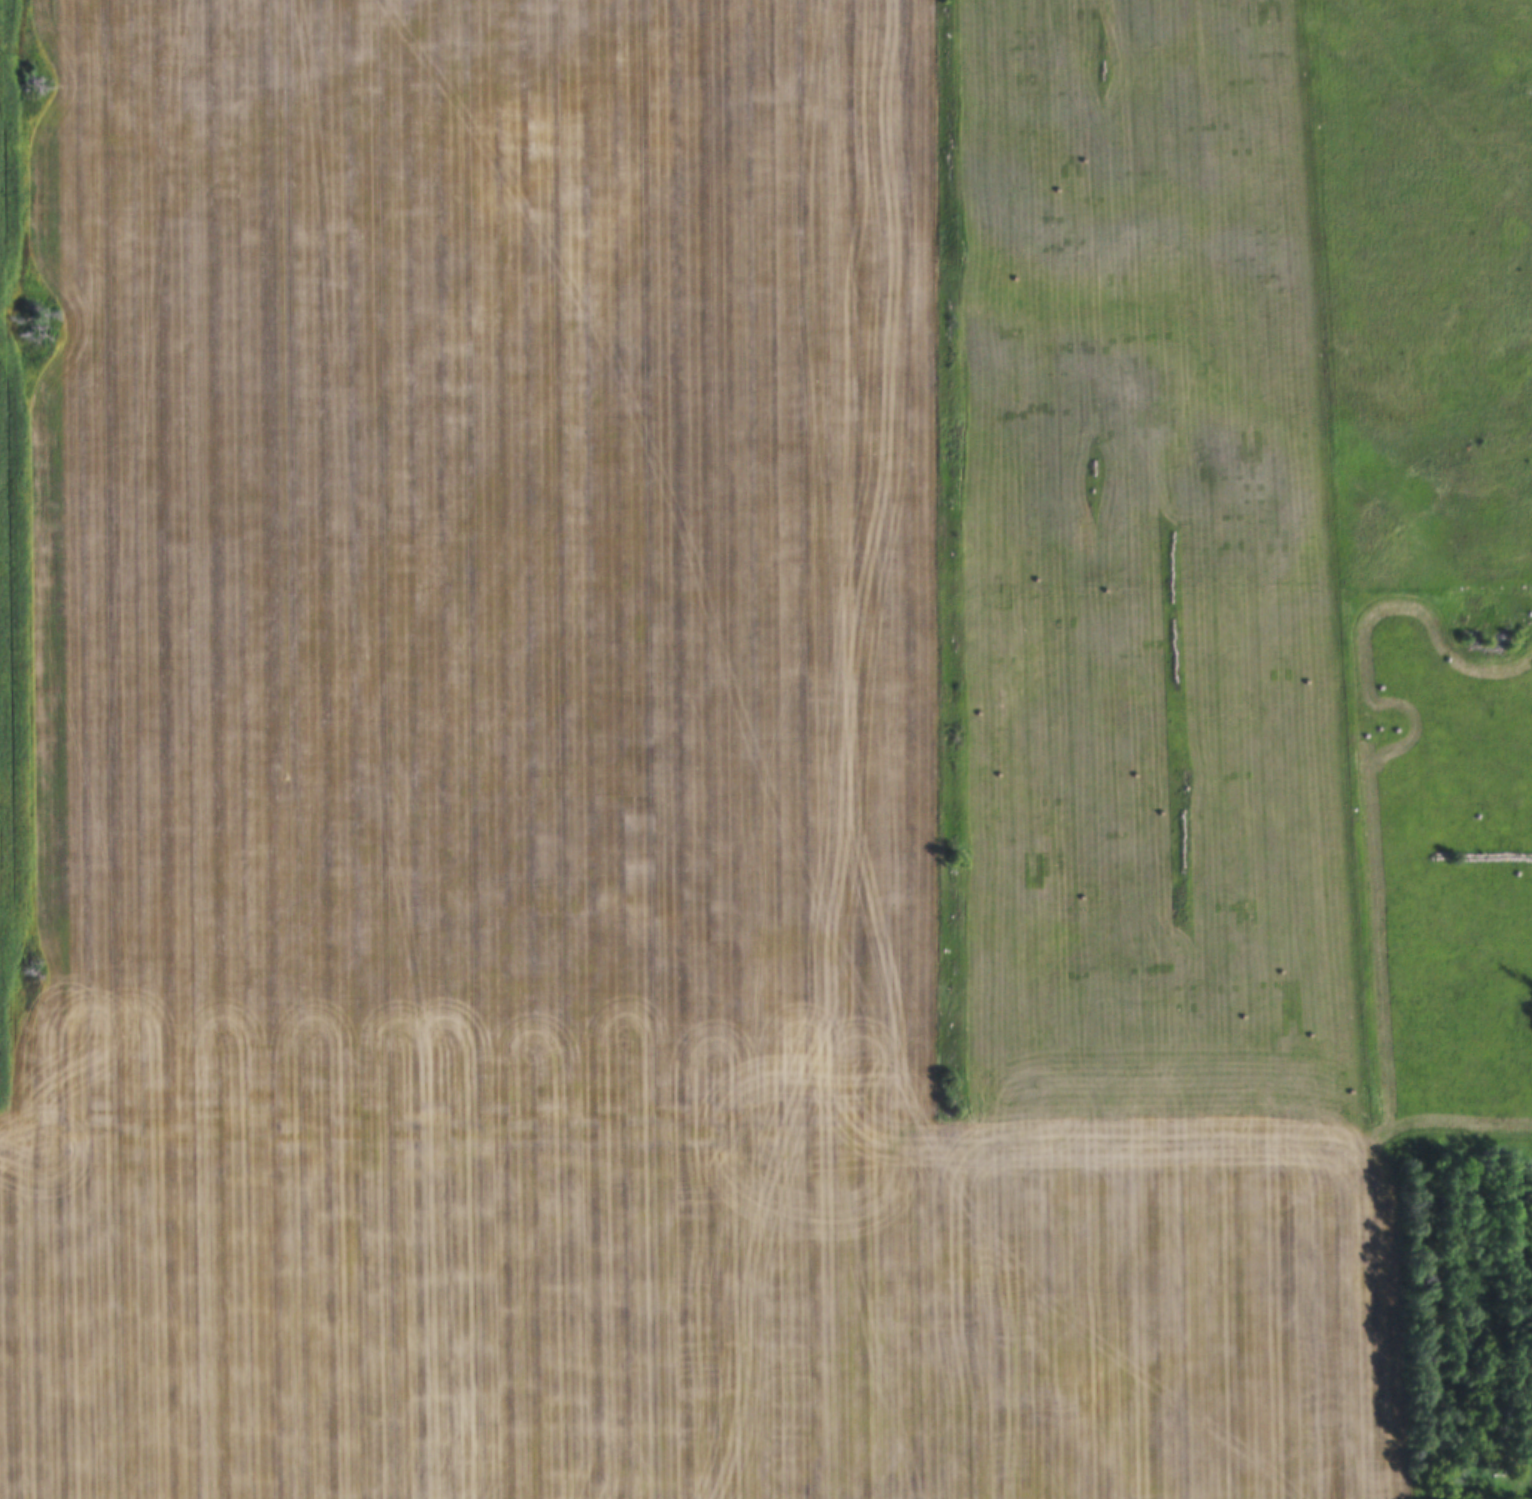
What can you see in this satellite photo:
road: (58, 296)

